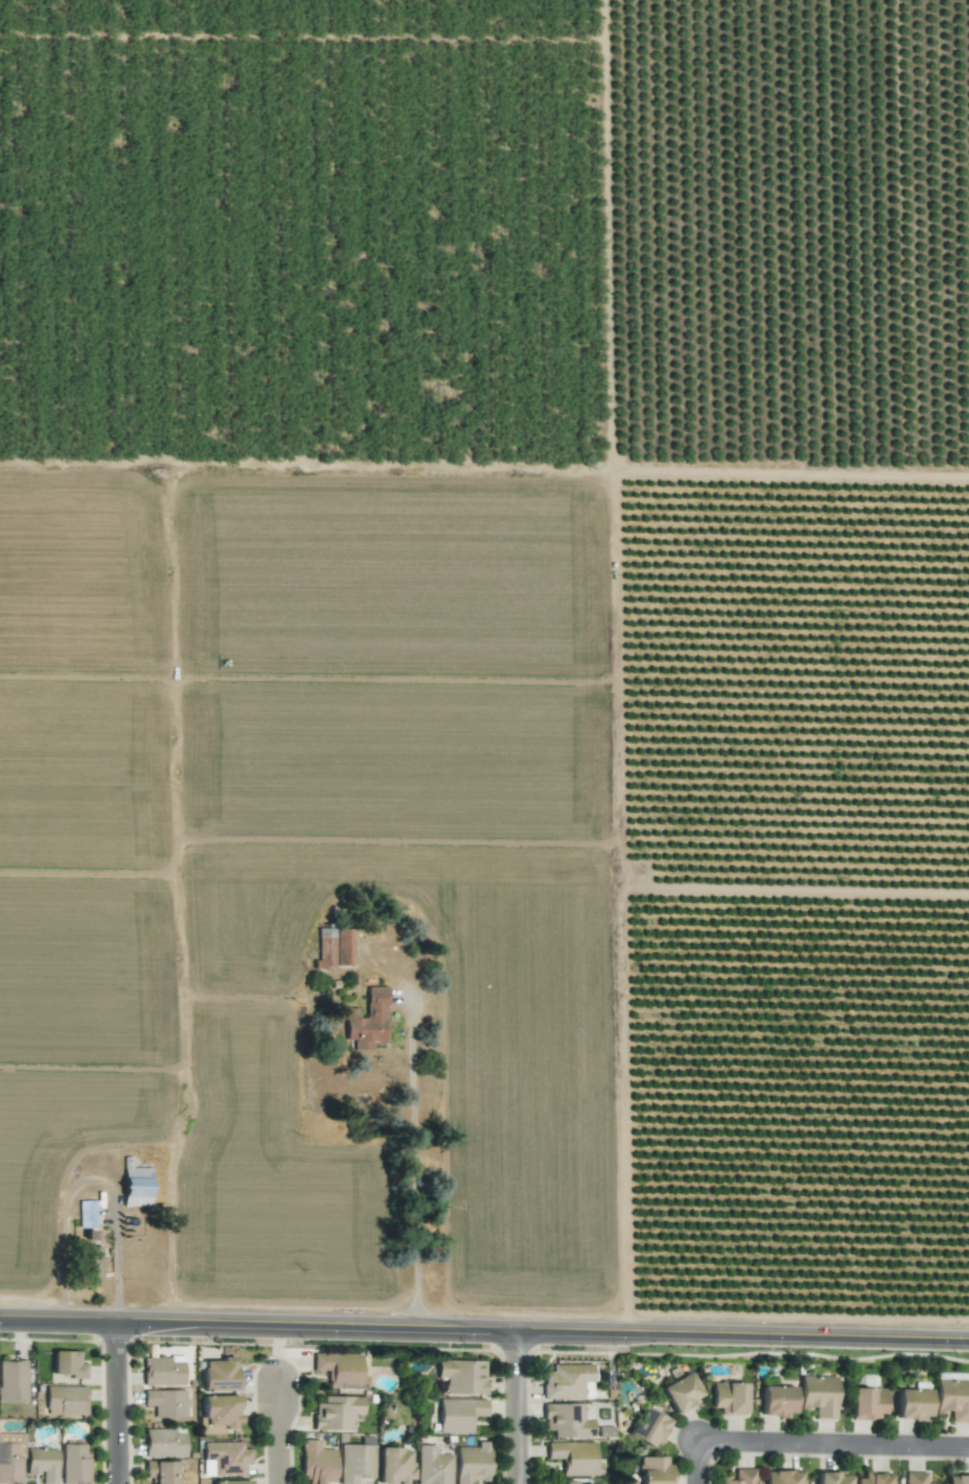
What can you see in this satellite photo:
crop: (485, 660)
building: (345, 946)
building: (325, 947)
building: (367, 1021)
road: (412, 1154)
road: (92, 1178)
building: (136, 1185)
building: (87, 1214)
building: (92, 1262)
road: (484, 1325)
building: (67, 1364)
building: (340, 1370)
building: (163, 1371)
building: (219, 1374)
building: (952, 1375)
building: (462, 1376)
building: (12, 1381)
building: (566, 1381)
building: (680, 1392)
building: (818, 1395)
building: (728, 1398)
building: (953, 1399)
building: (65, 1400)
building: (777, 1400)
road: (124, 1401)
building: (165, 1402)
building: (867, 1403)
building: (912, 1404)
road: (523, 1405)
building: (336, 1412)
building: (219, 1414)
building: (458, 1414)
building: (566, 1420)
building: (647, 1427)
road: (285, 1431)
building: (164, 1442)
road: (833, 1444)
building: (226, 1457)
building: (574, 1457)
building: (11, 1458)
building: (316, 1462)
building: (355, 1462)
road: (697, 1462)
building: (472, 1463)
building: (43, 1464)
building: (74, 1464)
building: (393, 1465)
building: (432, 1466)
building: (654, 1470)
building: (161, 1471)
building: (739, 1477)
building: (781, 1477)
building: (832, 1477)
building: (915, 1478)
building: (872, 1479)
building: (957, 1479)
building: (231, 1482)
building: (566, 1482)
building: (600, 1483)

